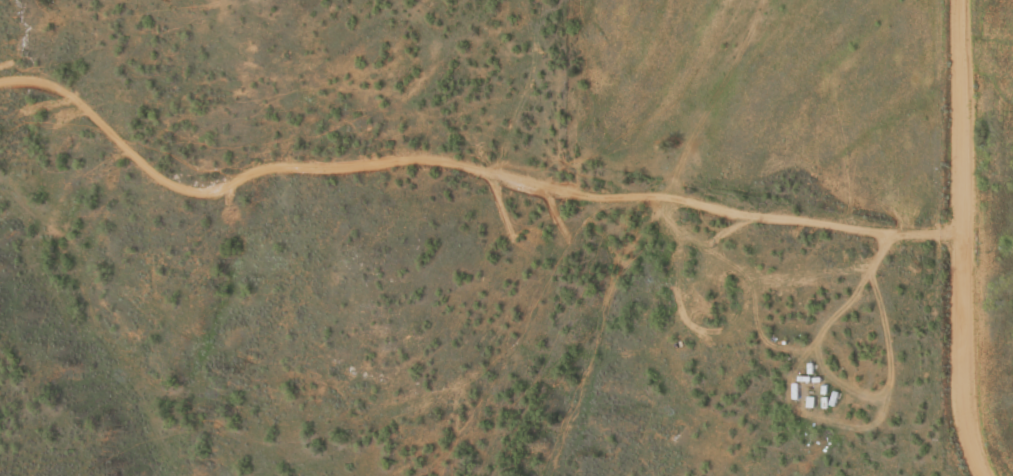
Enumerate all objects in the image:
road: (461, 162)
road: (957, 239)

